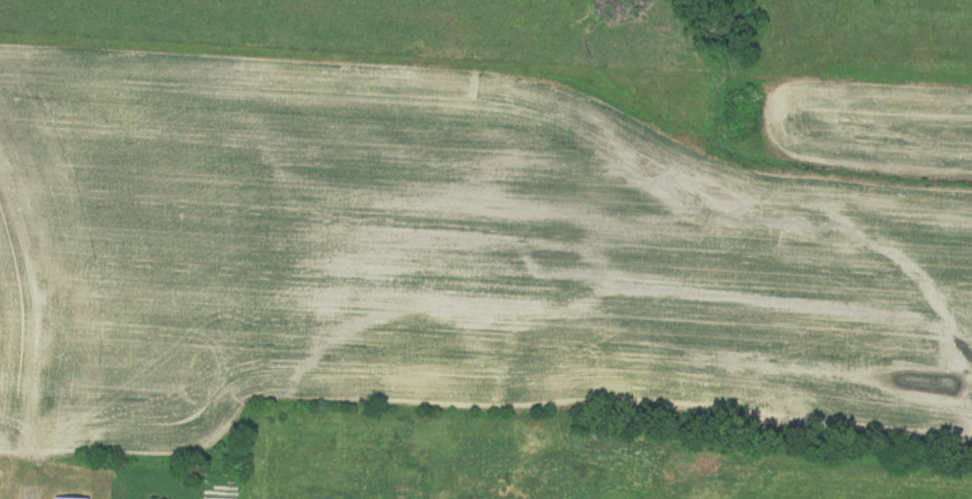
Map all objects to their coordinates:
crop: (870, 122)
crop: (441, 265)
building: (403, 491)
building: (66, 498)

